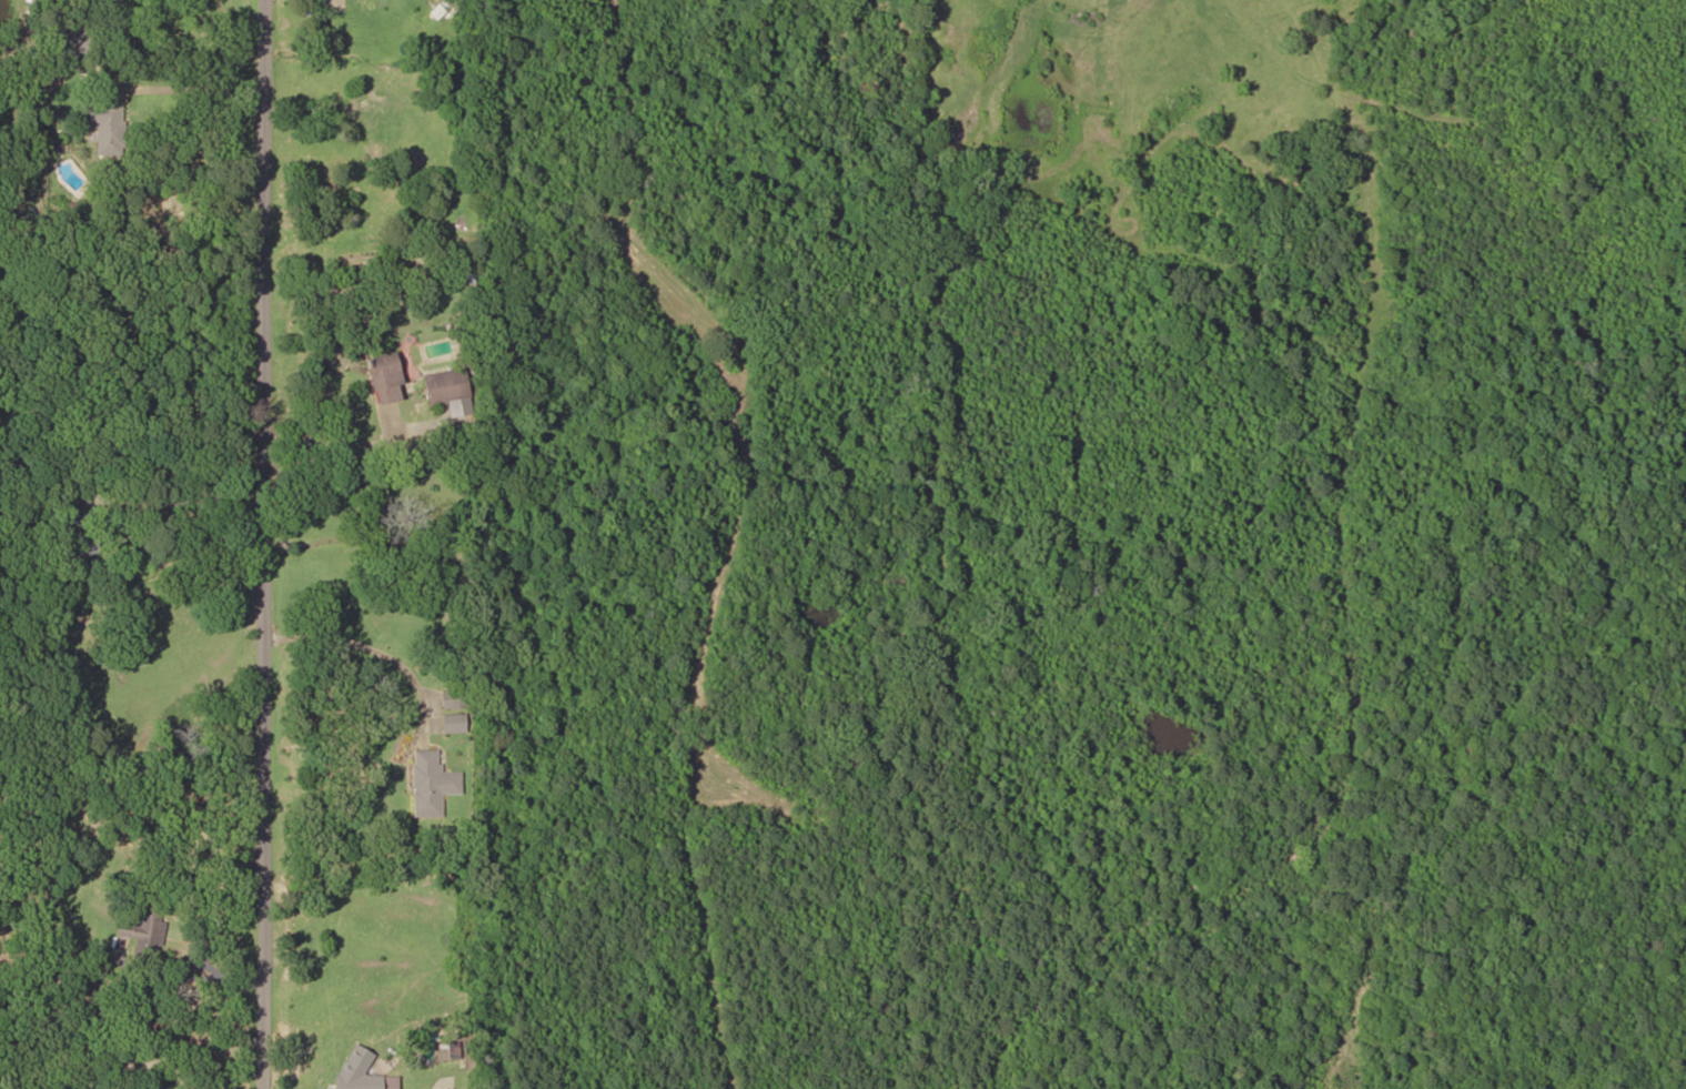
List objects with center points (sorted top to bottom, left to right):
building: (67, 43)
building: (104, 124)
building: (453, 256)
building: (384, 377)
building: (444, 384)
building: (74, 508)
road: (259, 544)
building: (79, 551)
building: (454, 698)
building: (453, 723)
building: (430, 783)
building: (143, 929)
building: (367, 1080)

